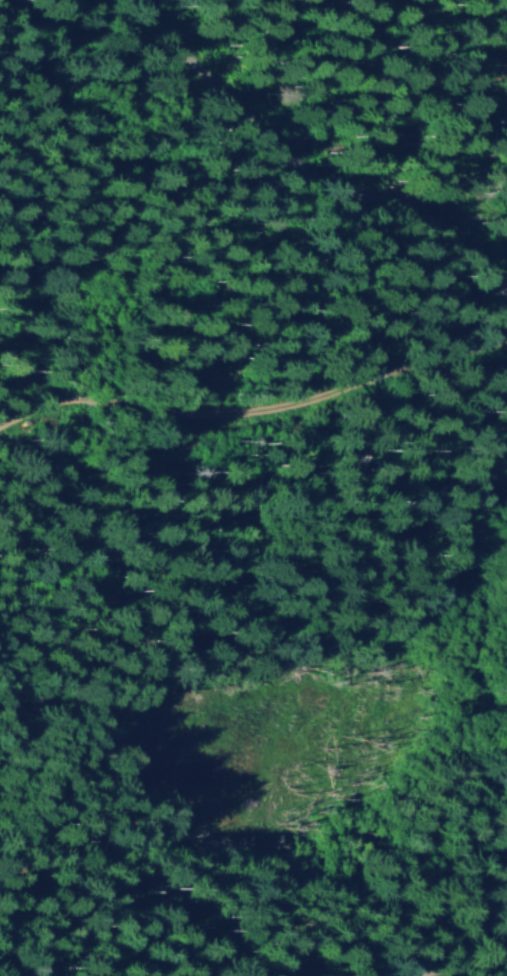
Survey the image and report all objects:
road: (307, 172)
road: (469, 965)

